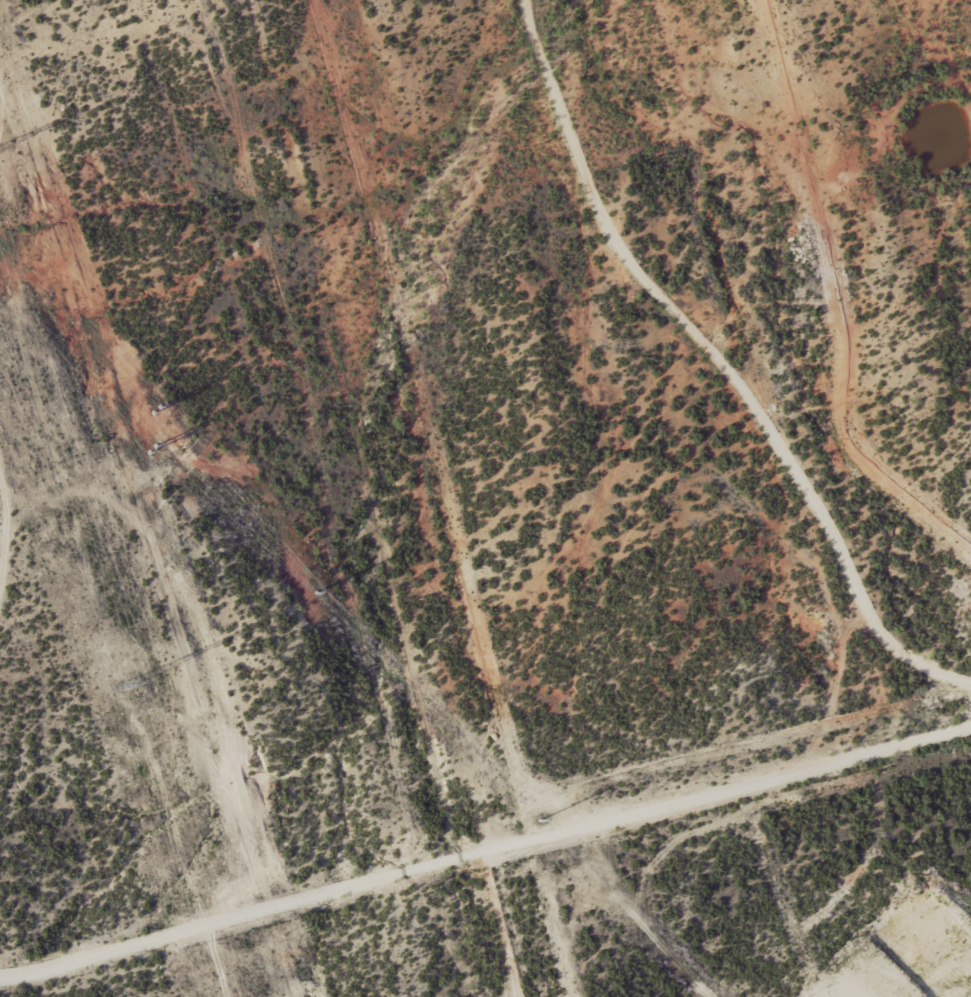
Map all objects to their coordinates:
road: (793, 221)
road: (728, 316)
power tower: (156, 411)
power tower: (154, 451)
power tower: (316, 593)
power tower: (126, 688)
road: (746, 771)
power tower: (539, 820)

